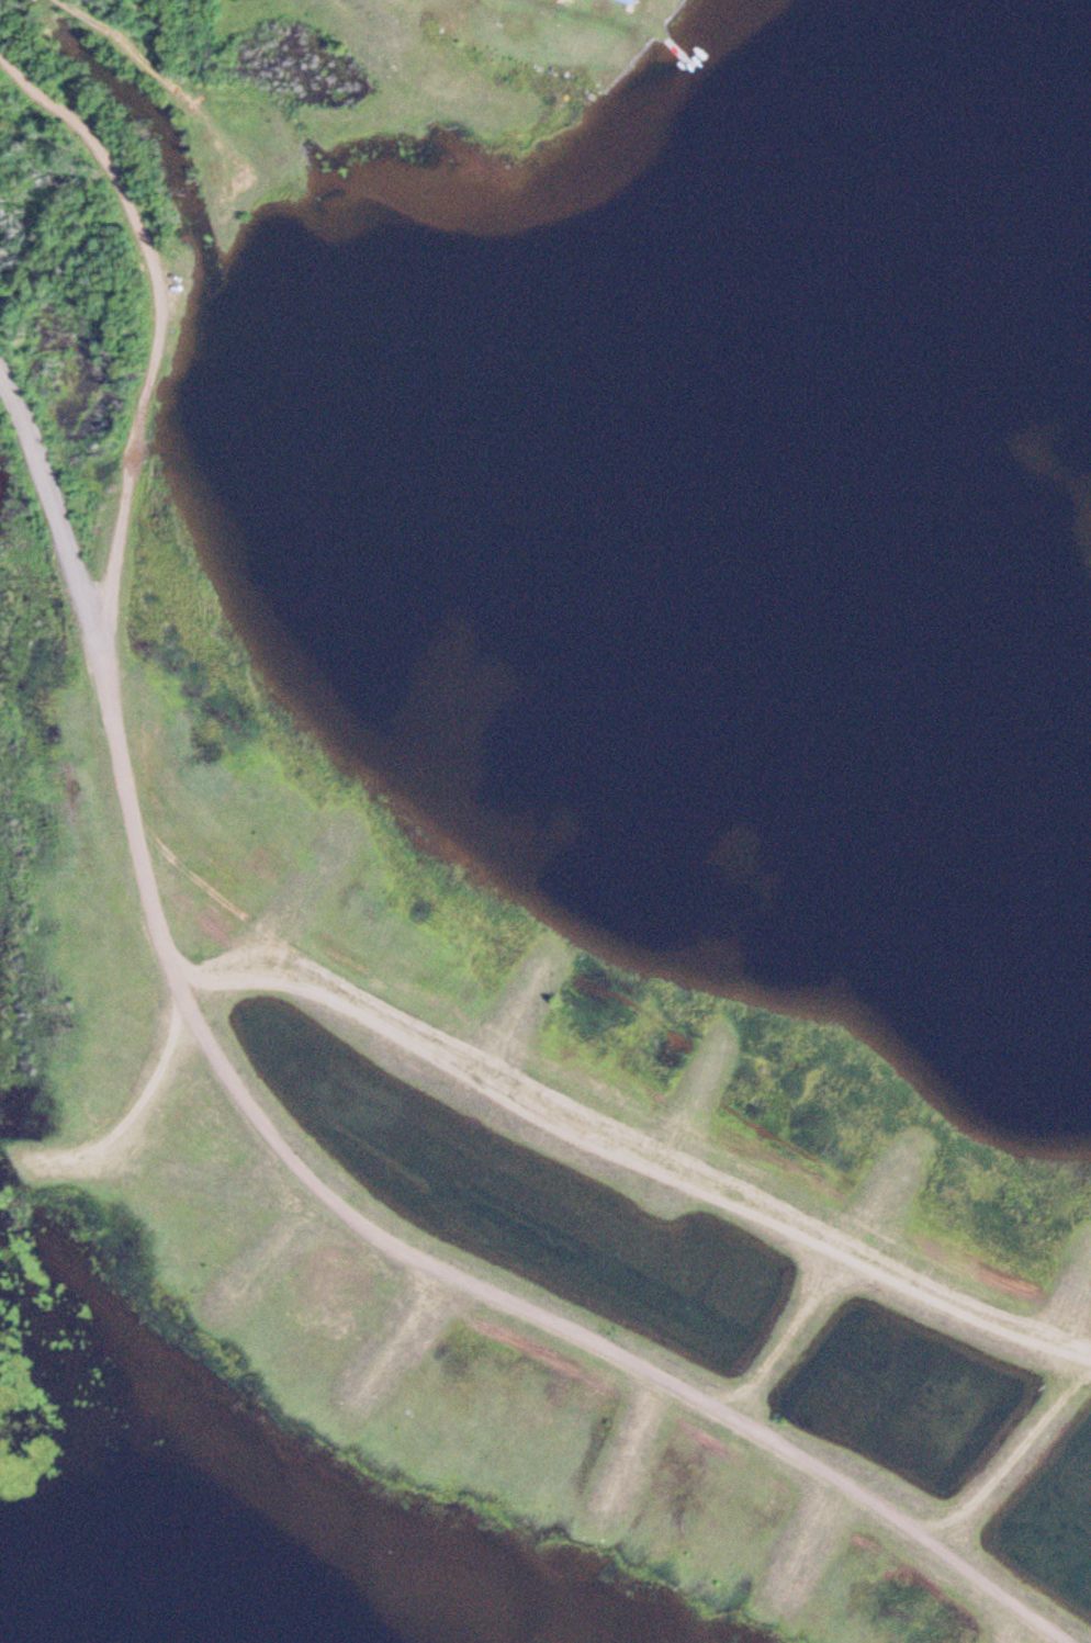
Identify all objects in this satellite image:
building: (615, 3)
road: (97, 682)
road: (632, 1147)
road: (591, 1336)

